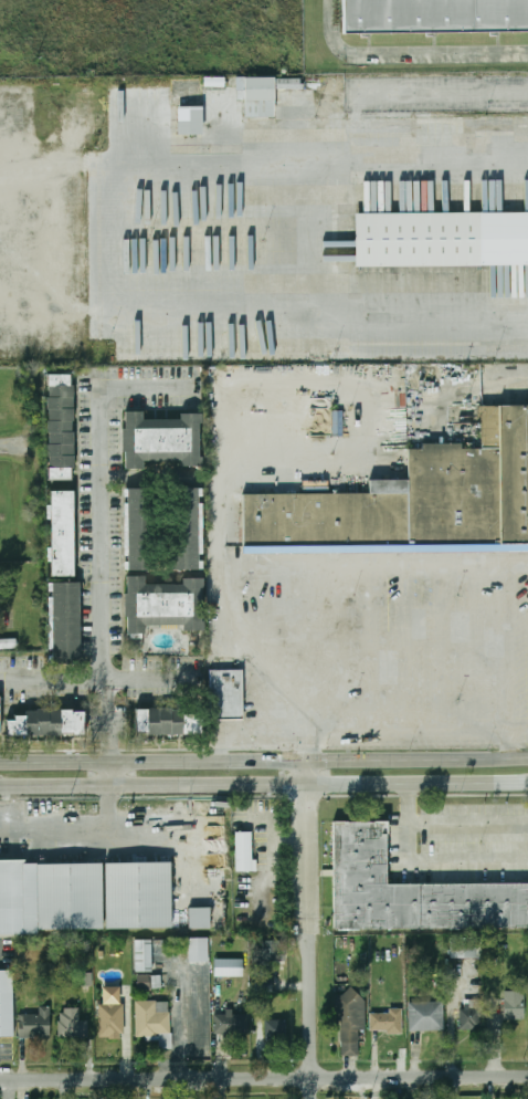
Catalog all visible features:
building: (434, 15)
road: (406, 53)
building: (263, 93)
building: (189, 119)
road: (18, 212)
road: (99, 239)
building: (441, 239)
building: (62, 420)
building: (165, 436)
road: (4, 446)
road: (225, 471)
road: (102, 495)
building: (414, 498)
building: (145, 524)
building: (189, 524)
building: (66, 527)
building: (167, 599)
building: (70, 615)
building: (8, 643)
road: (242, 651)
road: (97, 678)
building: (230, 689)
building: (1, 711)
building: (170, 718)
building: (49, 719)
road: (109, 724)
road: (520, 731)
road: (423, 733)
road: (264, 736)
road: (264, 761)
road: (112, 774)
road: (264, 786)
road: (408, 803)
road: (68, 825)
road: (409, 841)
road: (309, 847)
building: (245, 852)
building: (413, 886)
building: (139, 896)
building: (50, 897)
building: (200, 919)
building: (466, 948)
building: (200, 952)
building: (271, 953)
building: (145, 956)
building: (230, 967)
building: (85, 978)
building: (148, 982)
building: (514, 1005)
road: (313, 1006)
building: (8, 1007)
building: (110, 1013)
building: (471, 1014)
building: (425, 1016)
building: (350, 1021)
building: (387, 1021)
building: (155, 1022)
building: (231, 1023)
building: (35, 1024)
building: (72, 1025)
building: (275, 1030)
road: (264, 1079)
road: (314, 1088)

